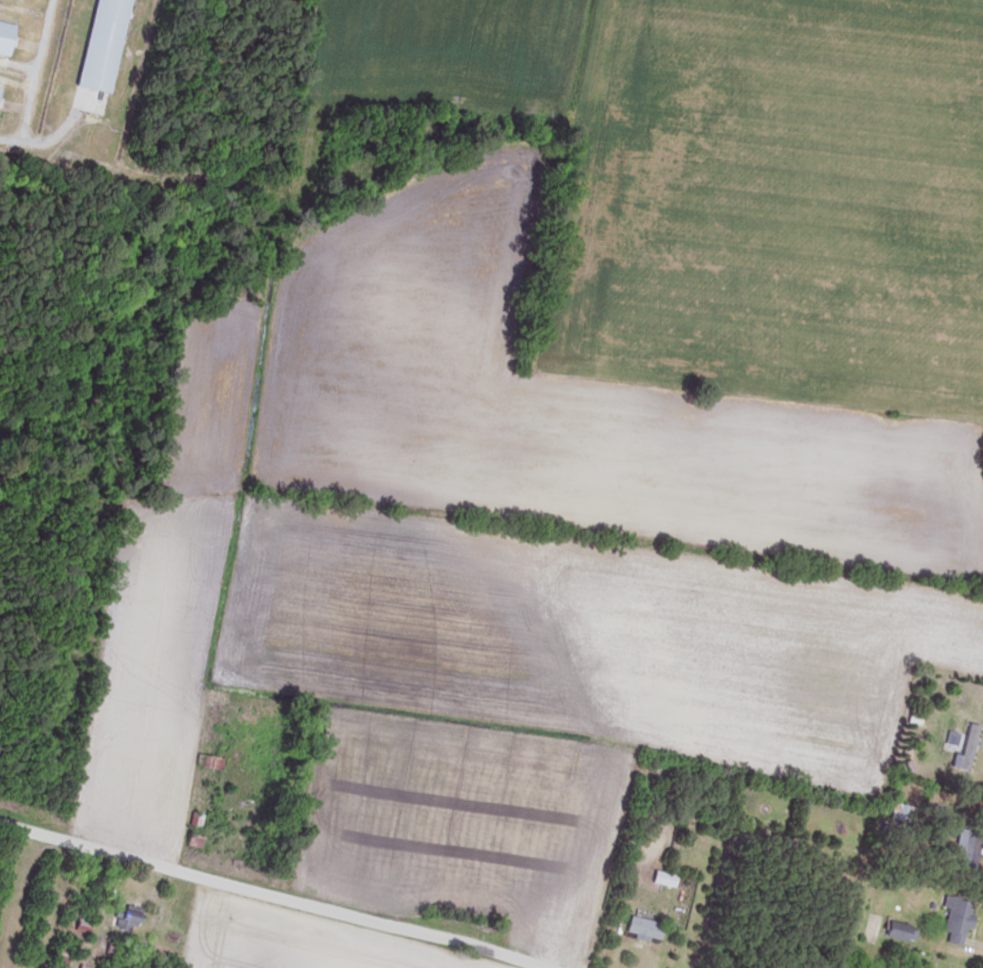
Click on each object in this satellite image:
building: (5, 34)
building: (99, 45)
building: (964, 751)
building: (208, 763)
building: (194, 820)
building: (190, 841)
building: (963, 849)
road: (271, 894)
building: (127, 920)
building: (954, 920)
building: (640, 928)
building: (896, 931)
building: (81, 967)

